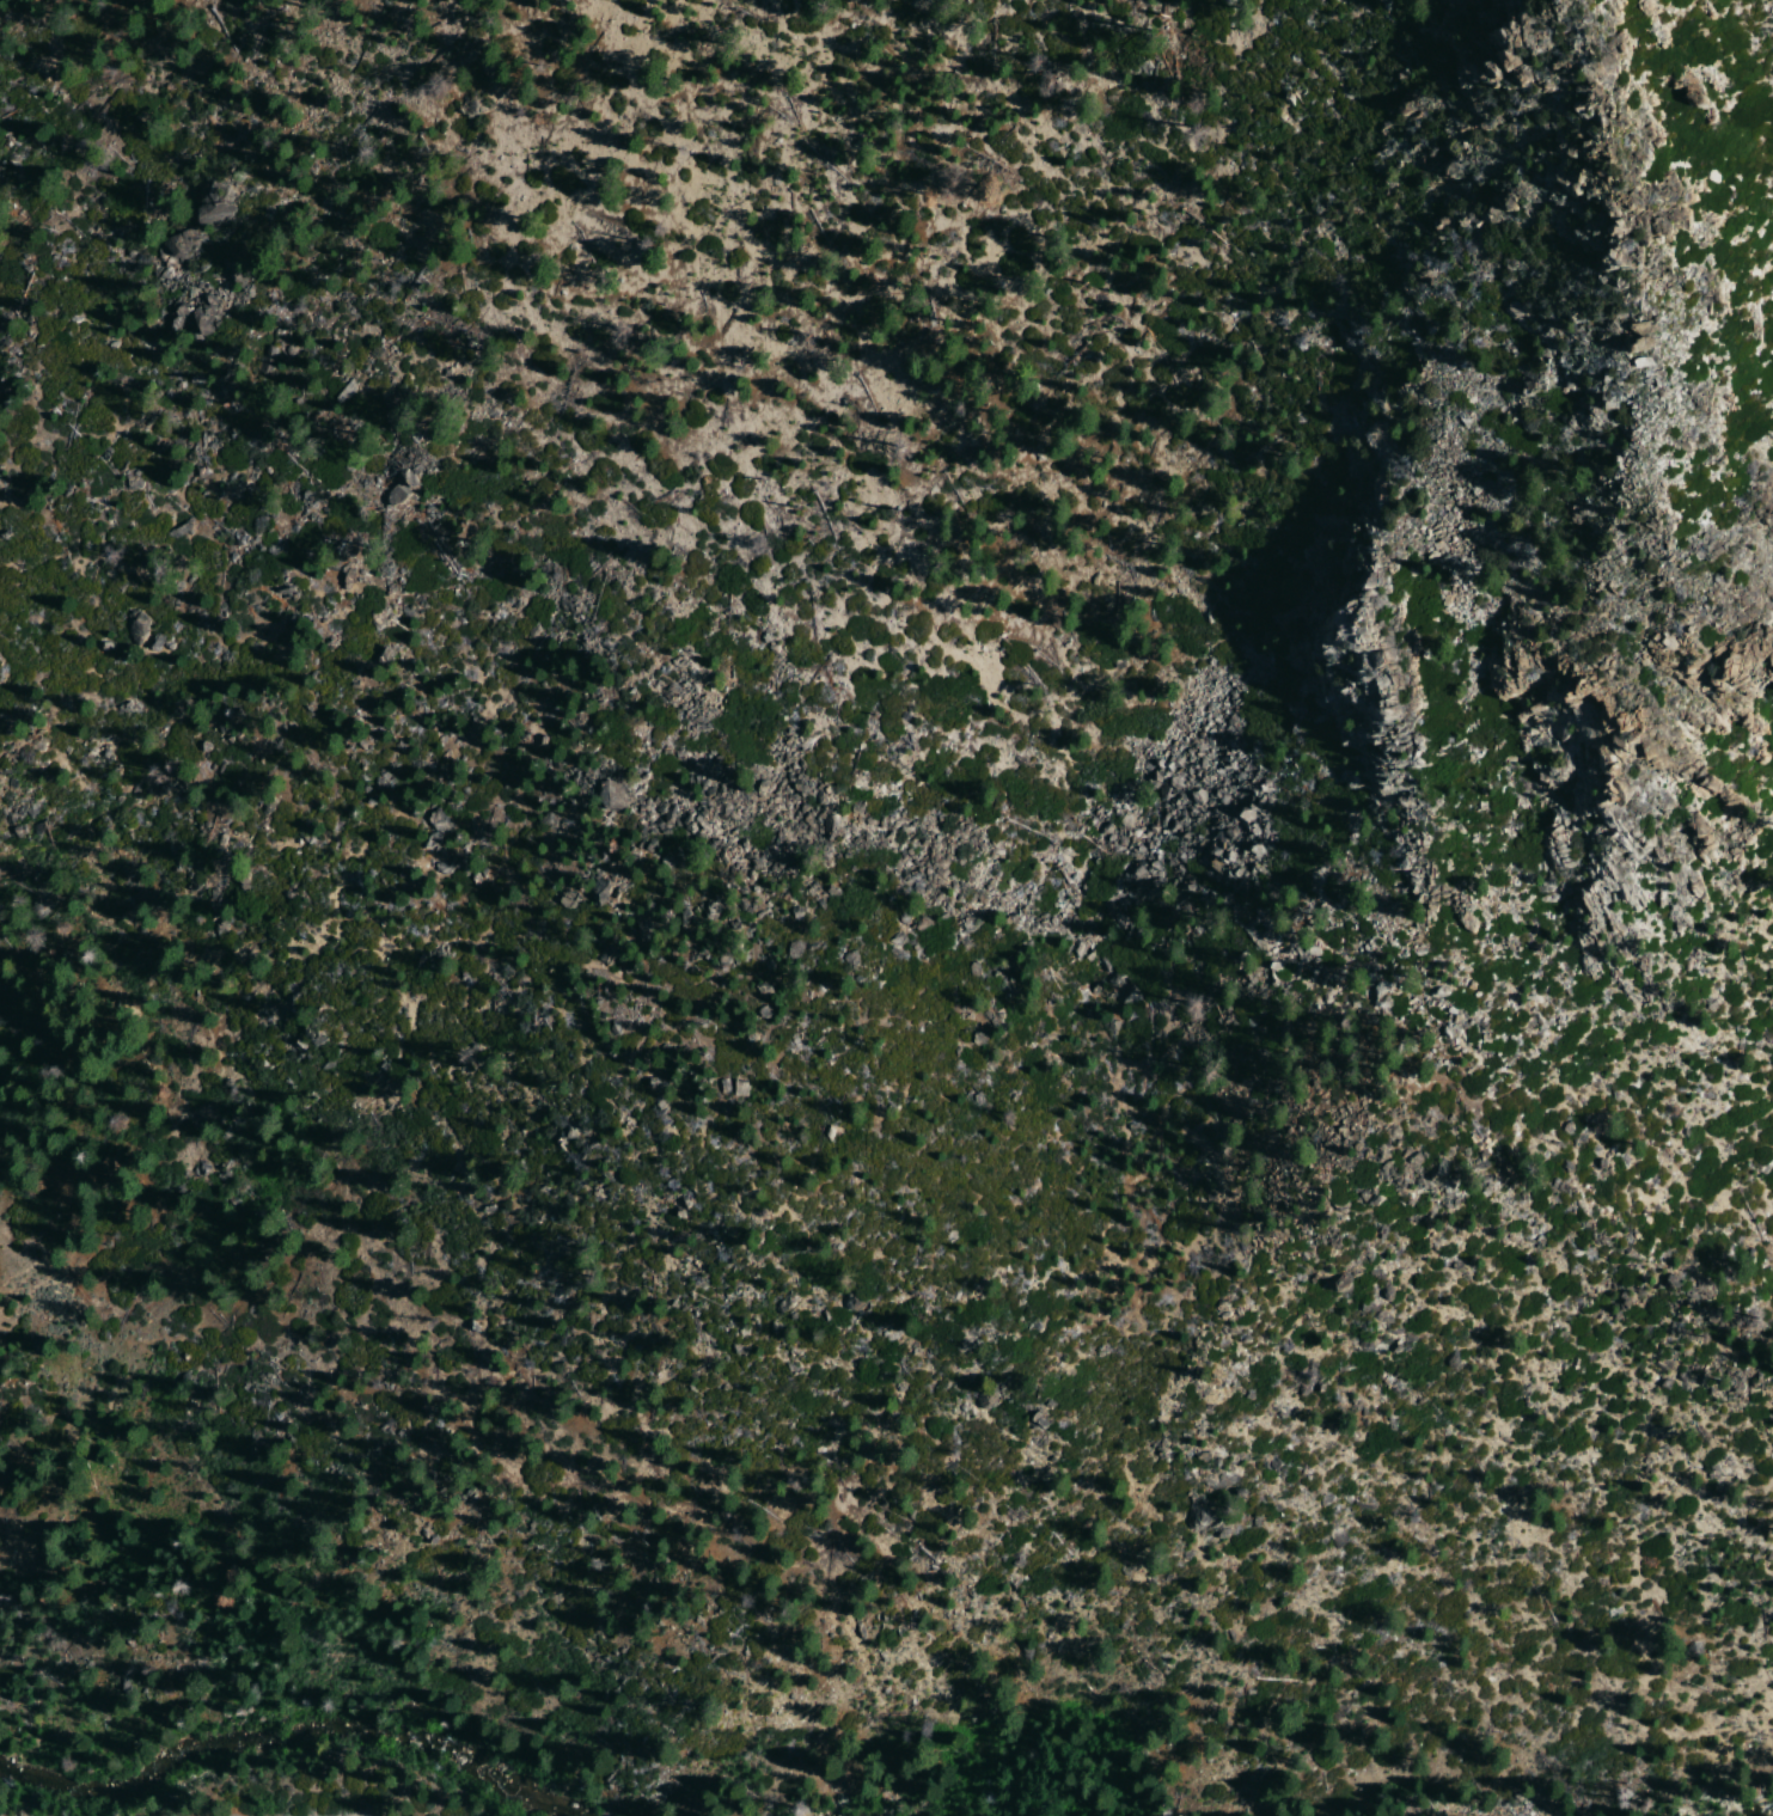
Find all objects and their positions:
river: (291, 1723)

